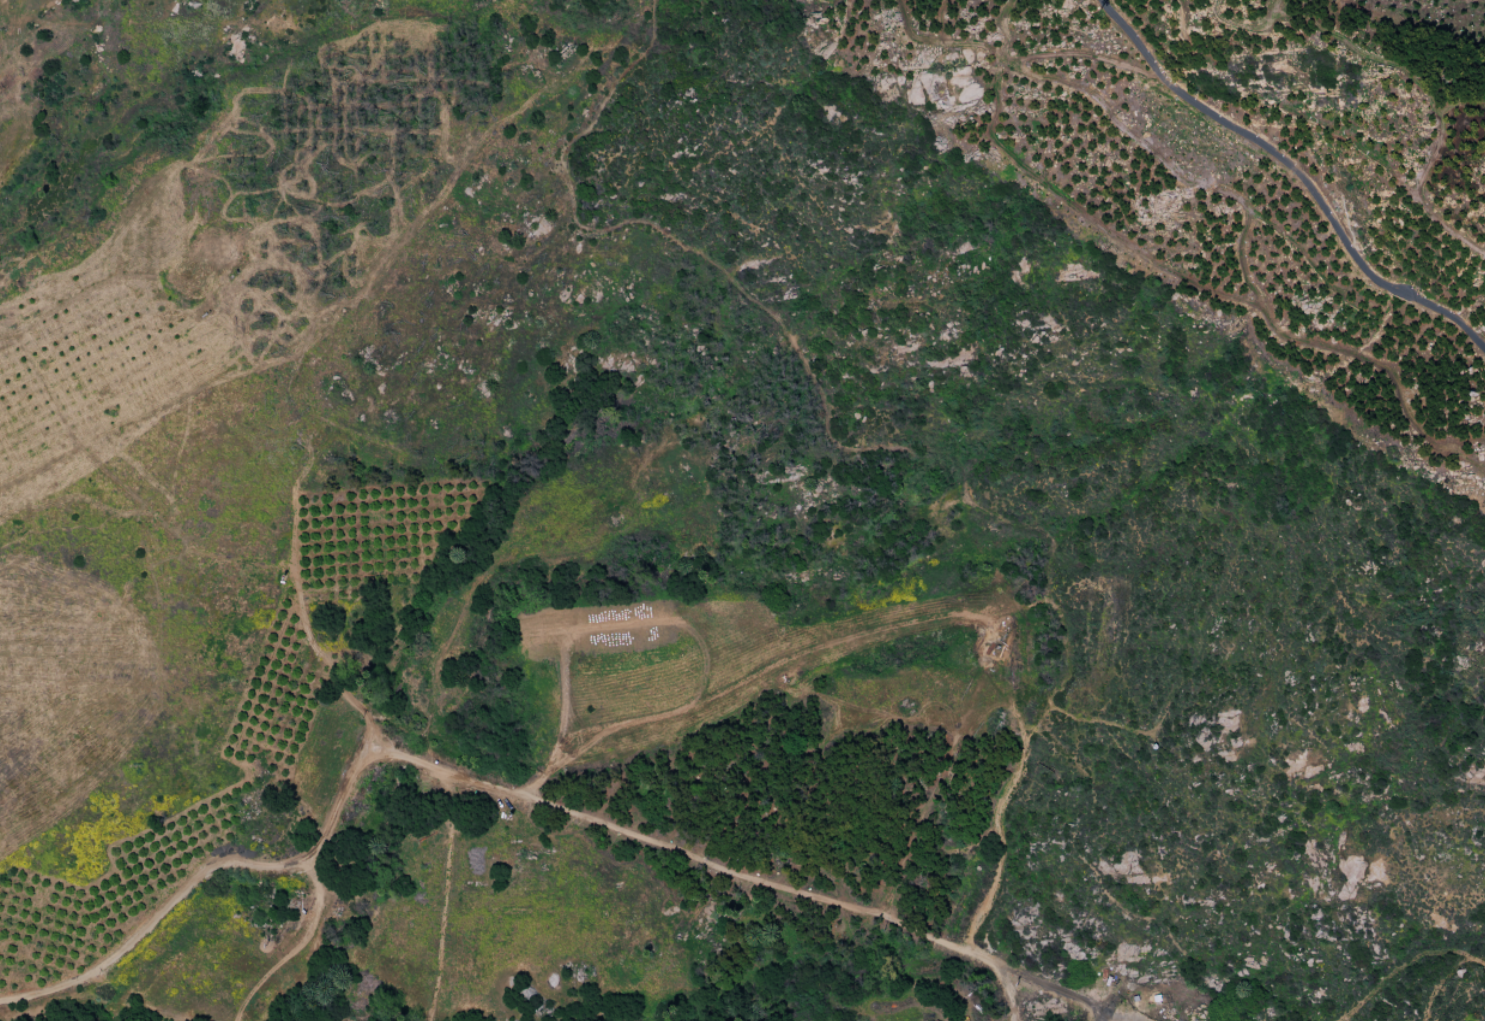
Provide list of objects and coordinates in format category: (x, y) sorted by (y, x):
road: (1297, 173)
road: (525, 796)
road: (297, 949)

